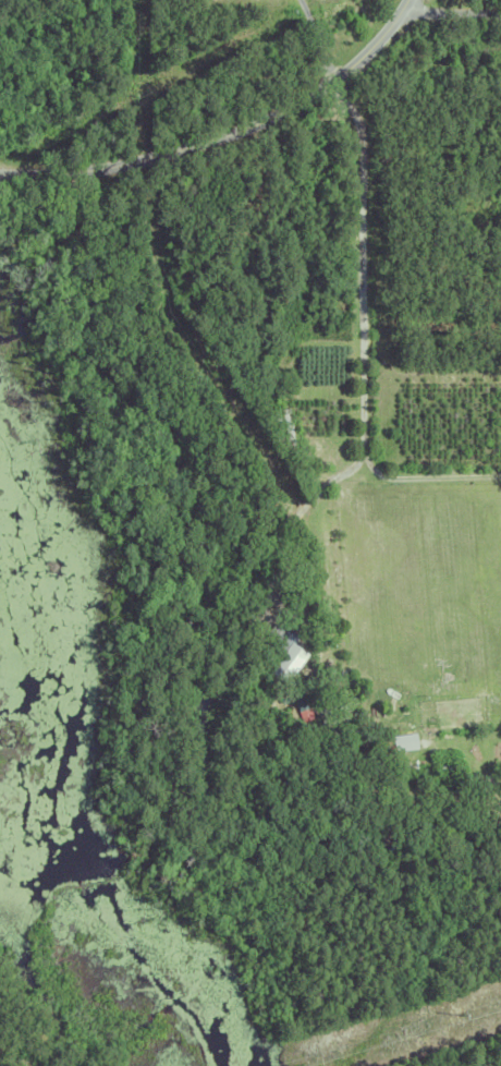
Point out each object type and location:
road: (452, 15)
road: (317, 43)
road: (228, 137)
building: (224, 259)
road: (362, 263)
building: (243, 344)
building: (241, 374)
building: (285, 428)
building: (274, 433)
road: (425, 475)
road: (295, 517)
building: (281, 652)
building: (282, 695)
building: (297, 699)
building: (403, 742)
building: (406, 783)
building: (406, 798)

